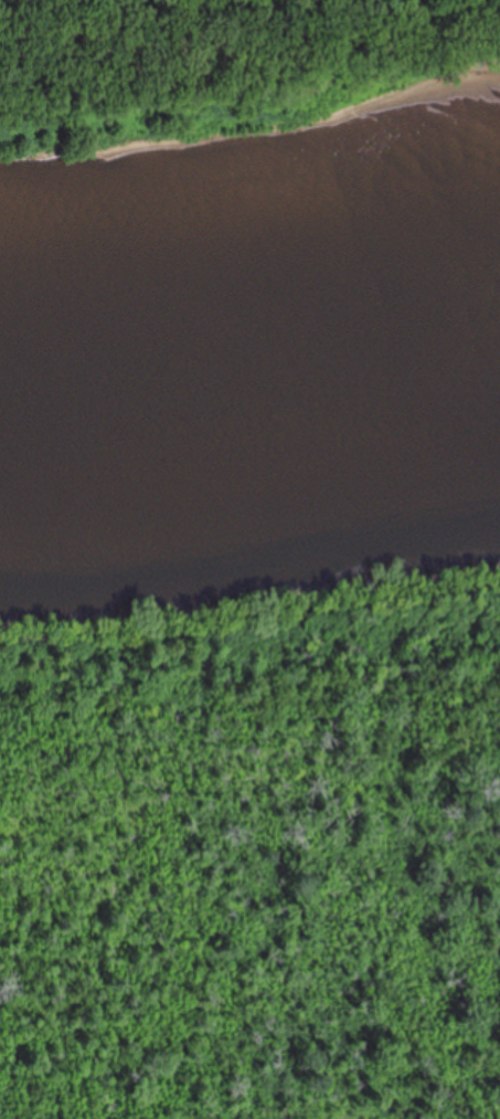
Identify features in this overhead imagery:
river: (249, 370)
park: (252, 736)

